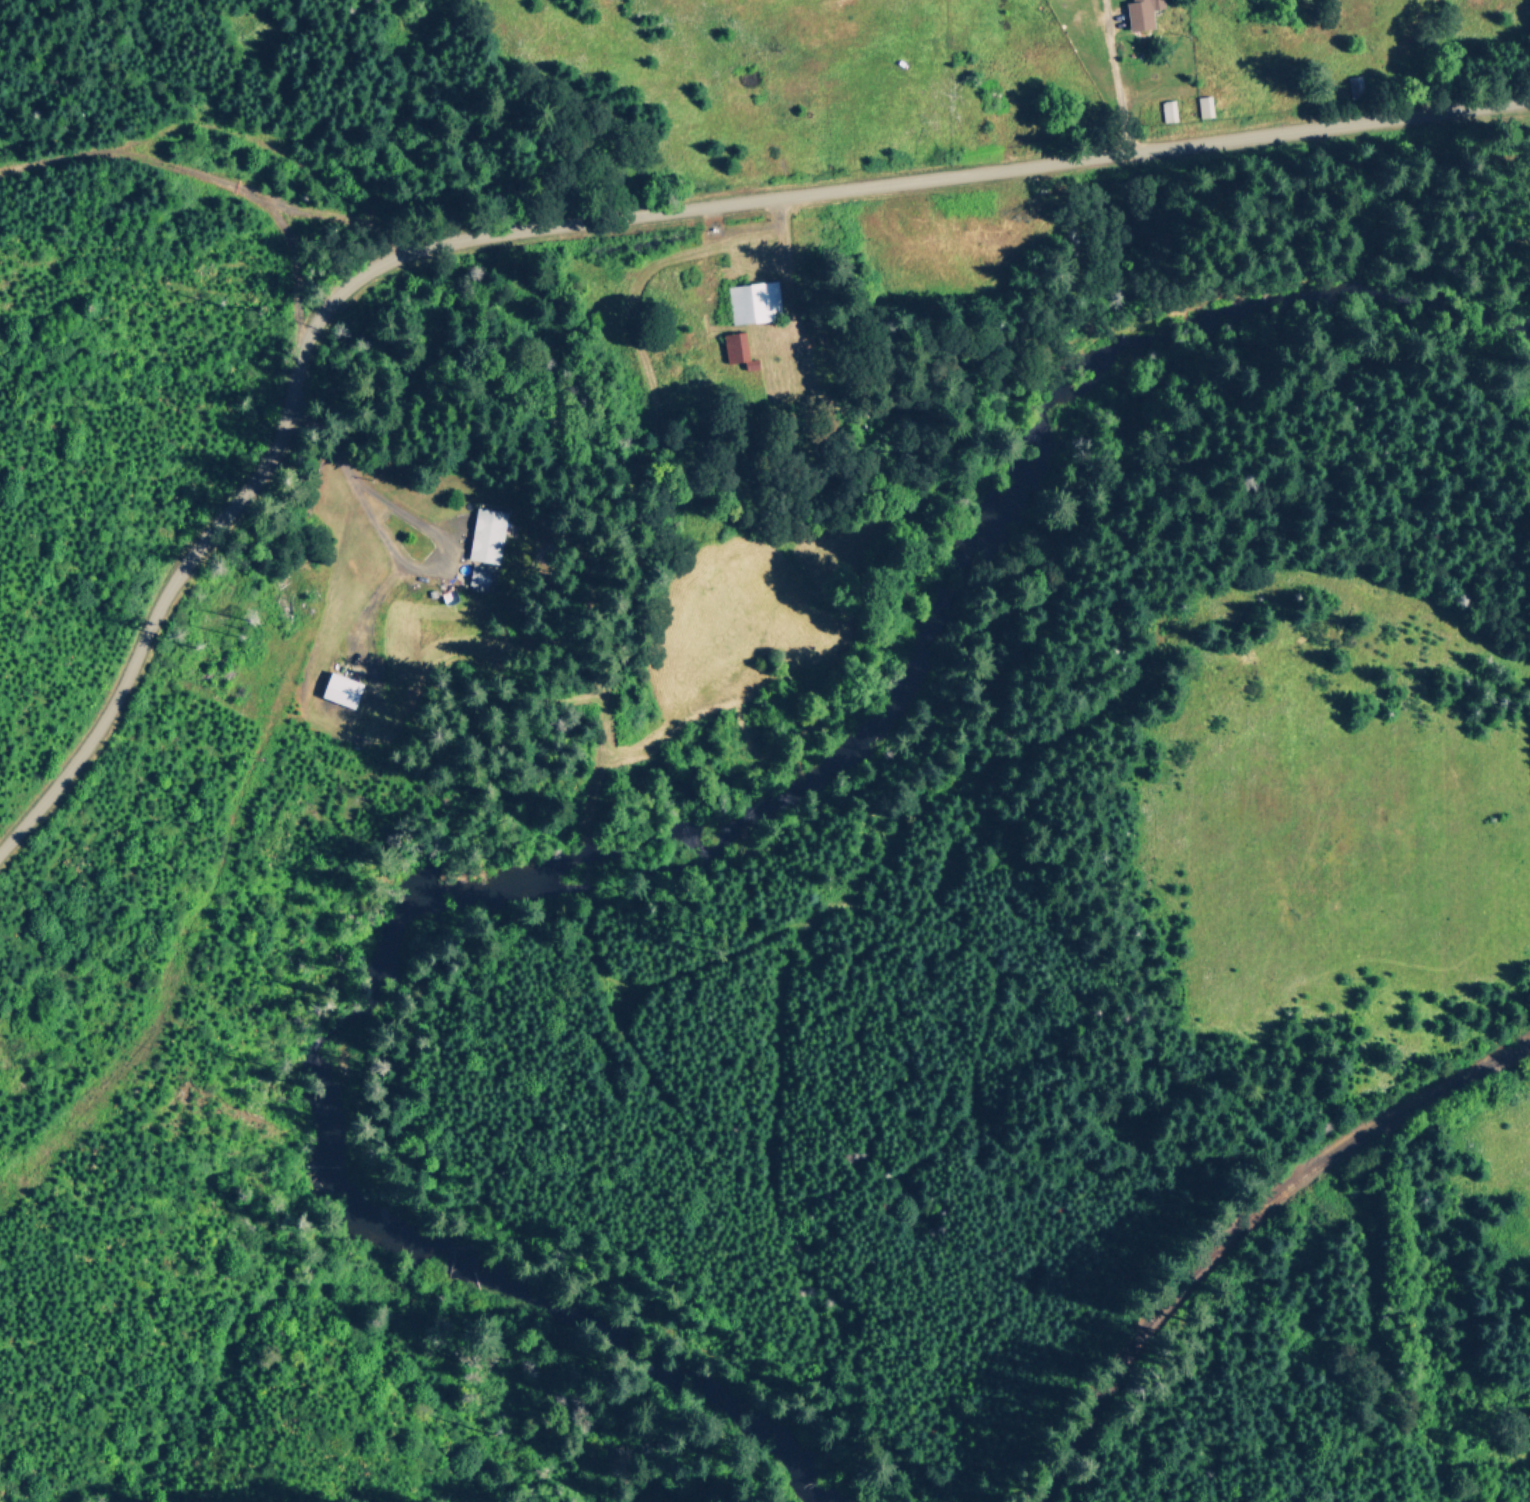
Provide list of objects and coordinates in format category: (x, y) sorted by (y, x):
building: (1144, 12)
building: (1205, 105)
road: (217, 176)
road: (597, 221)
building: (755, 301)
building: (739, 349)
building: (488, 534)
building: (480, 577)
building: (342, 689)
river: (652, 839)
railway: (1241, 1227)

